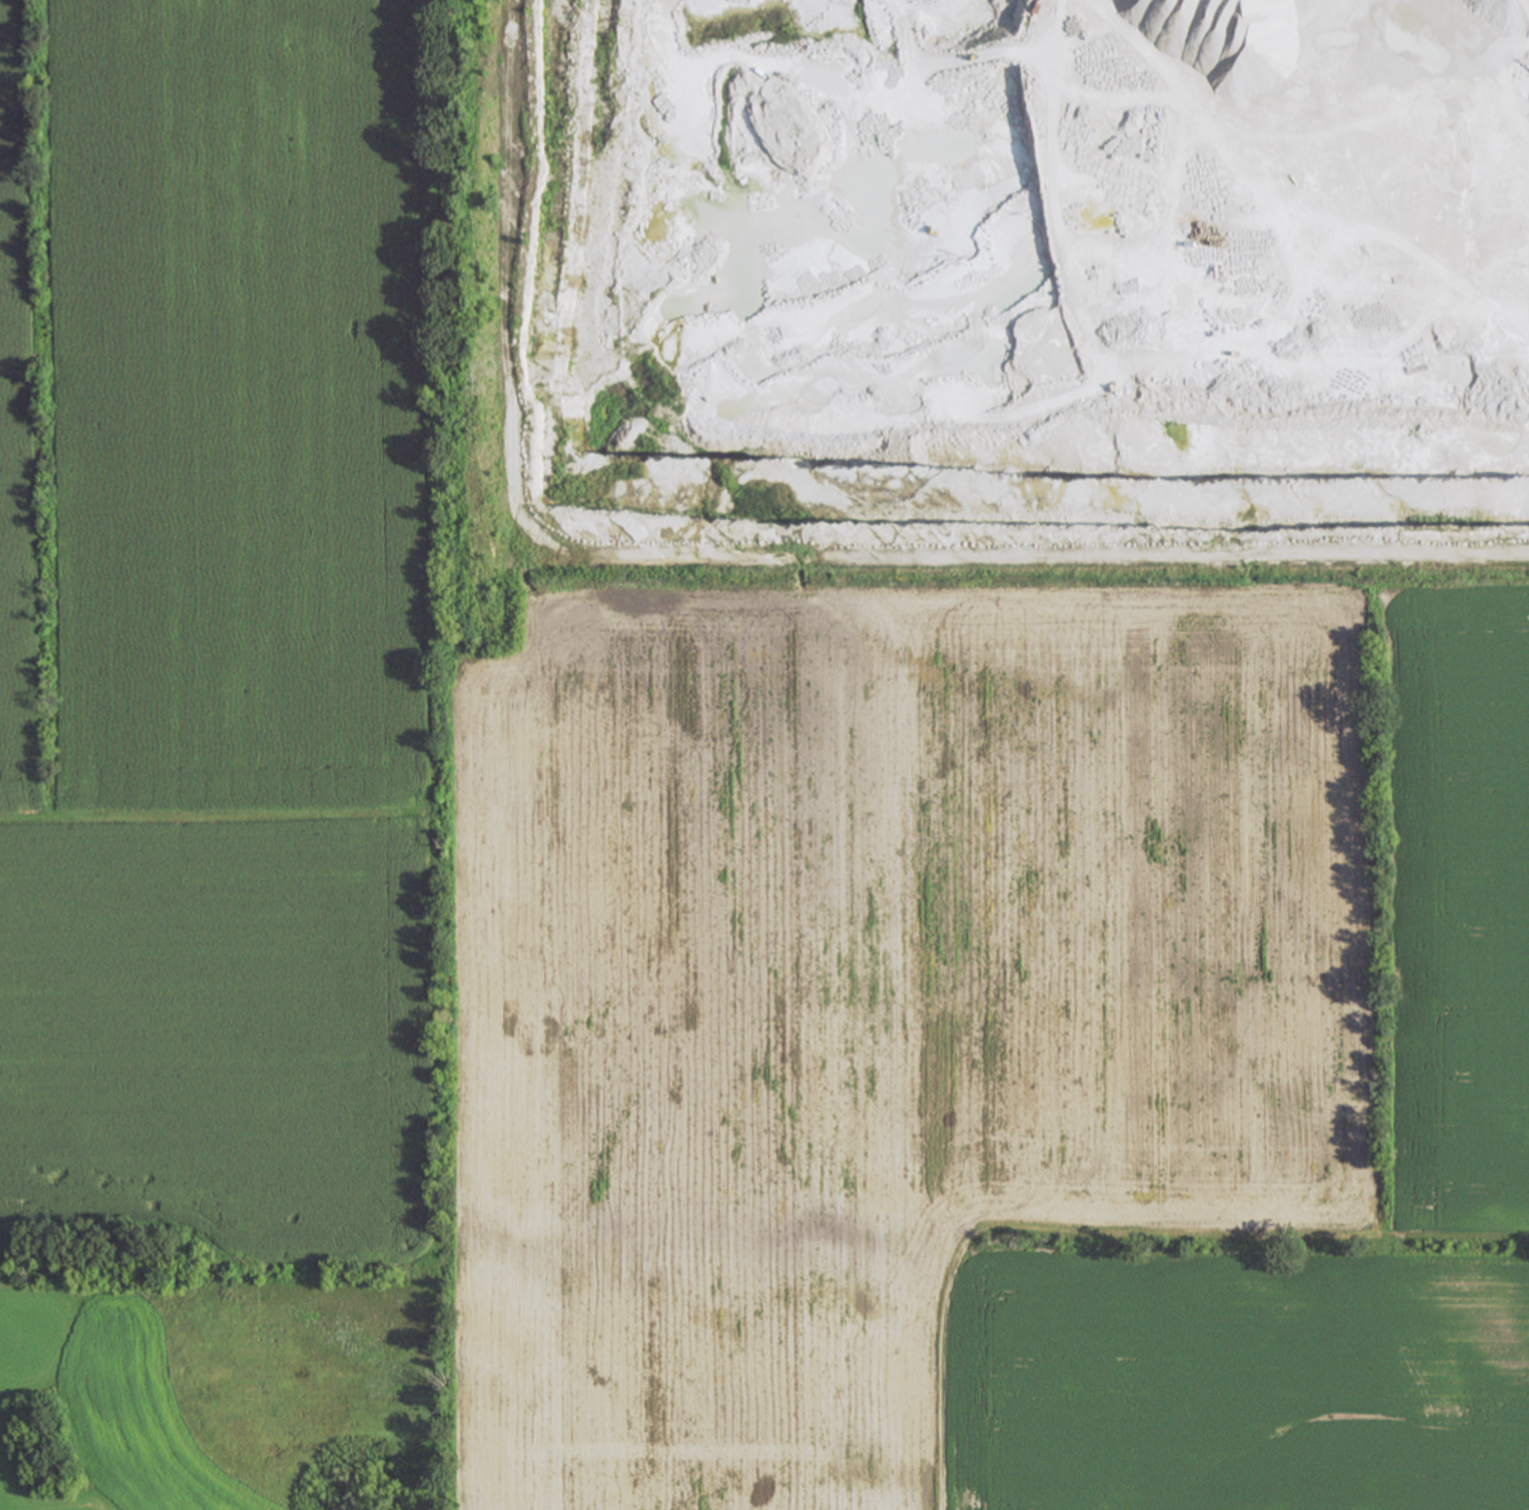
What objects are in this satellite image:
quarry: (1005, 267)
quarry: (1005, 267)

